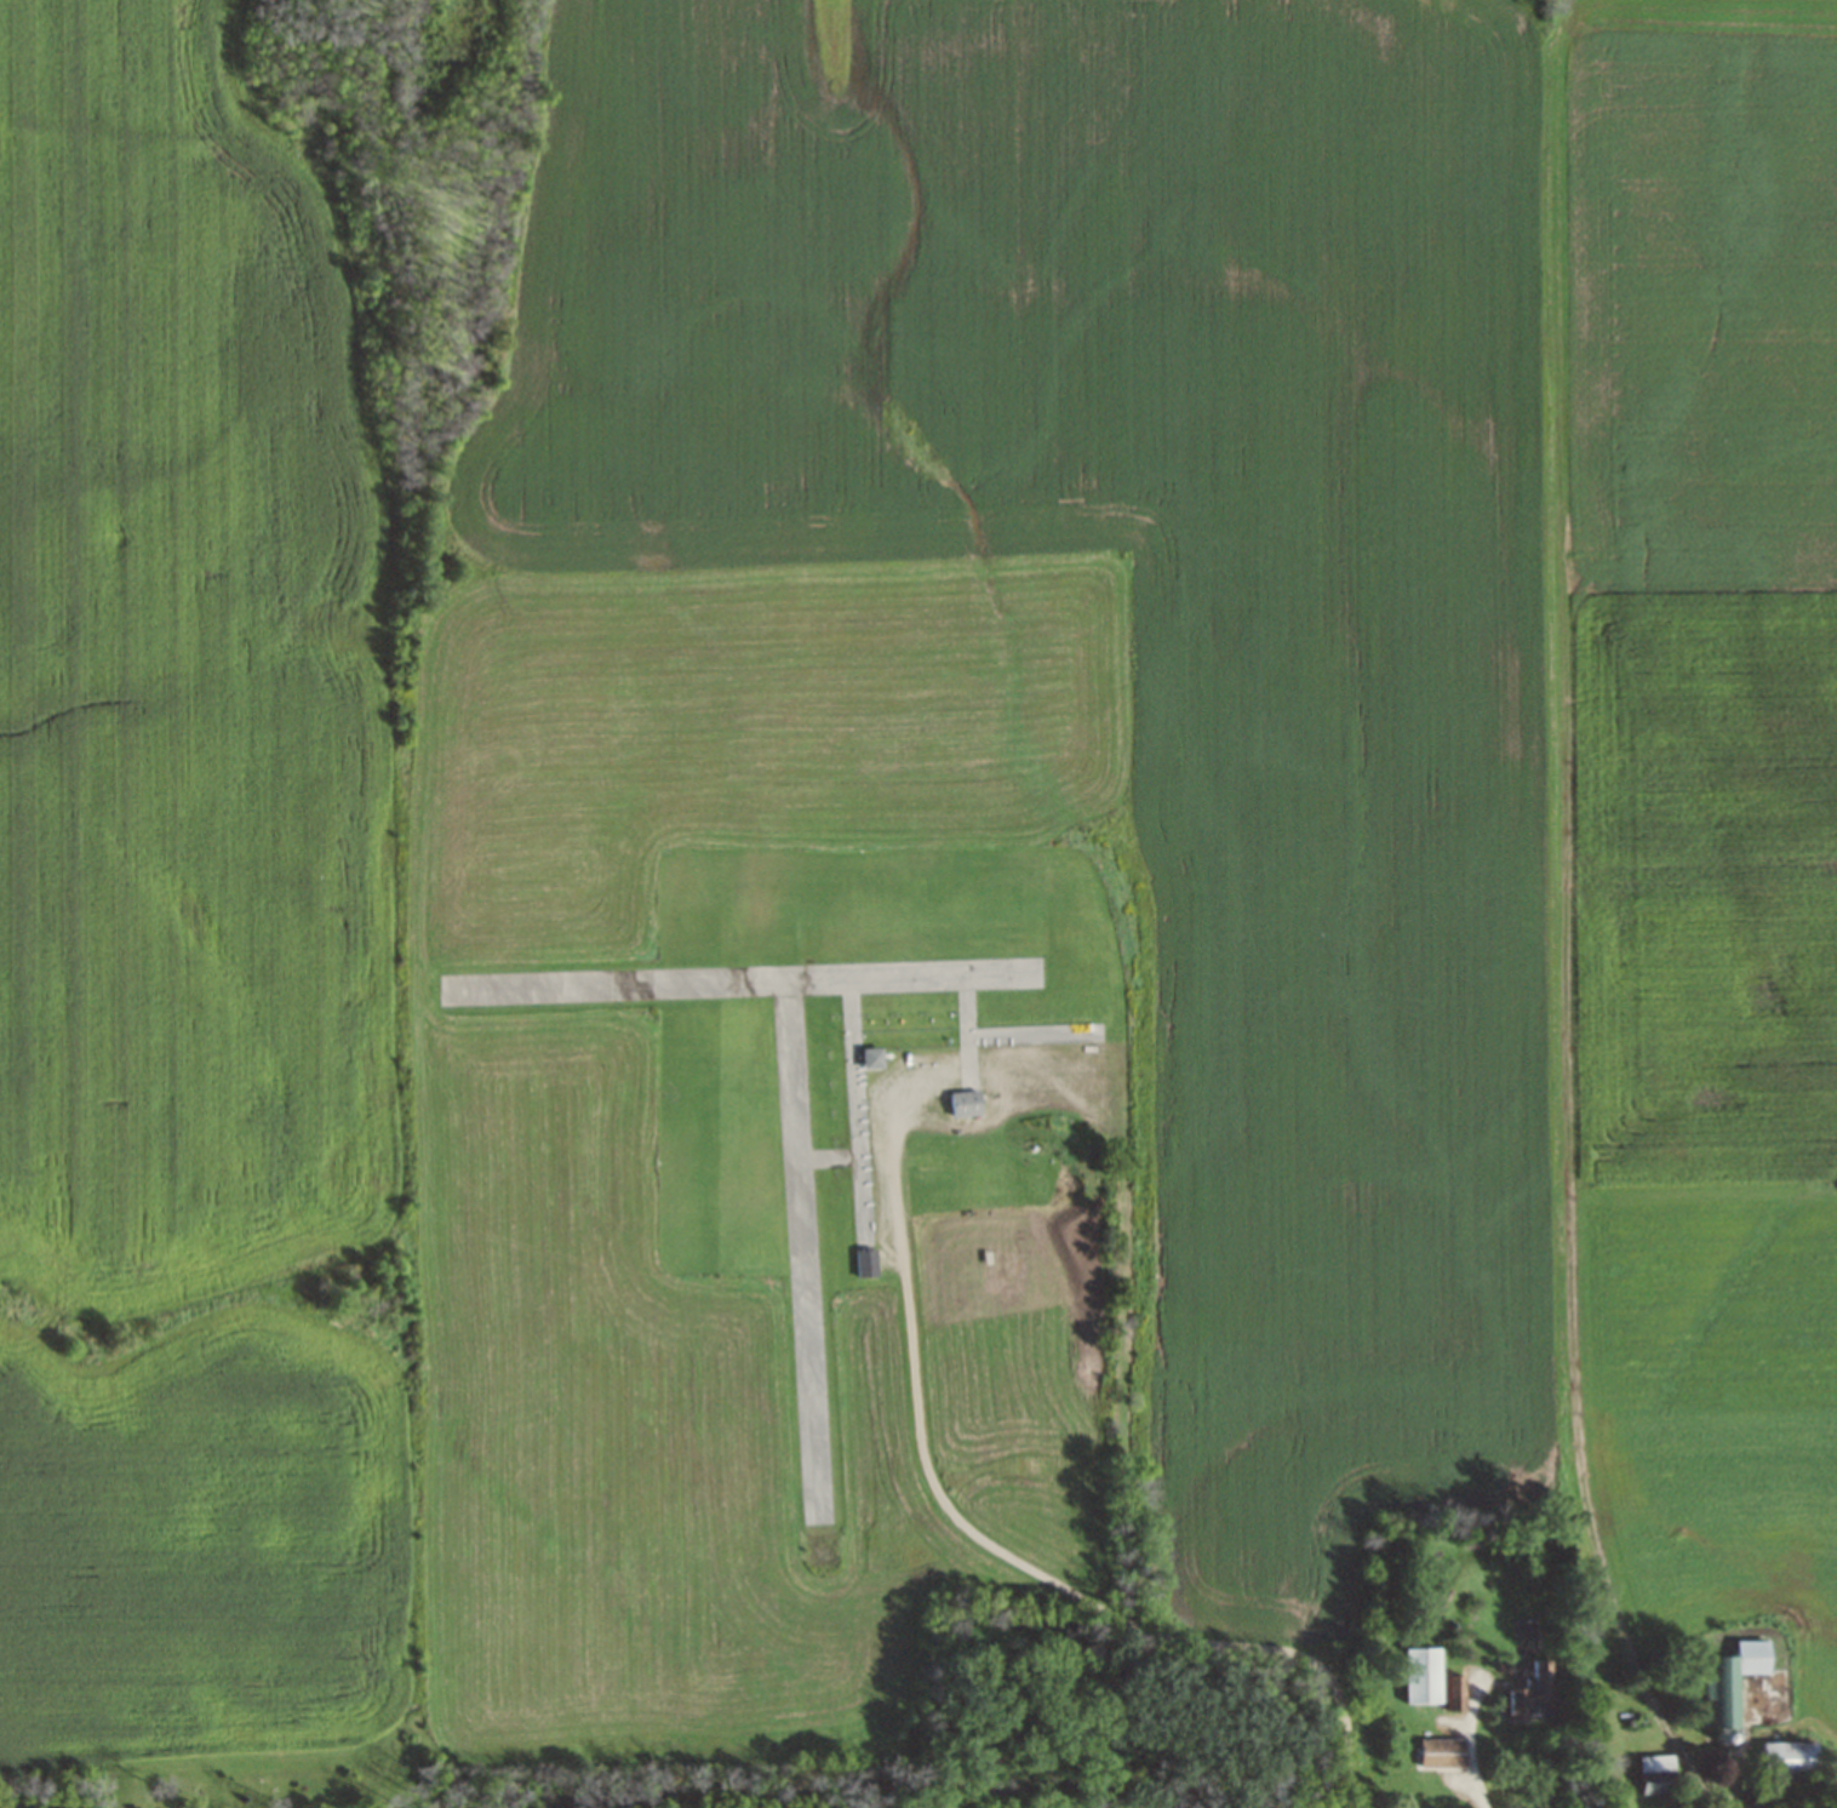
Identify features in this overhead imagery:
building: (965, 1007)
building: (872, 1057)
building: (965, 1103)
building: (865, 1263)
building: (817, 1505)
building: (1421, 1676)
building: (1732, 1681)
building: (1455, 1693)
building: (1533, 1693)
building: (1441, 1752)
building: (1790, 1757)
building: (1658, 1773)
building: (1755, 1803)

